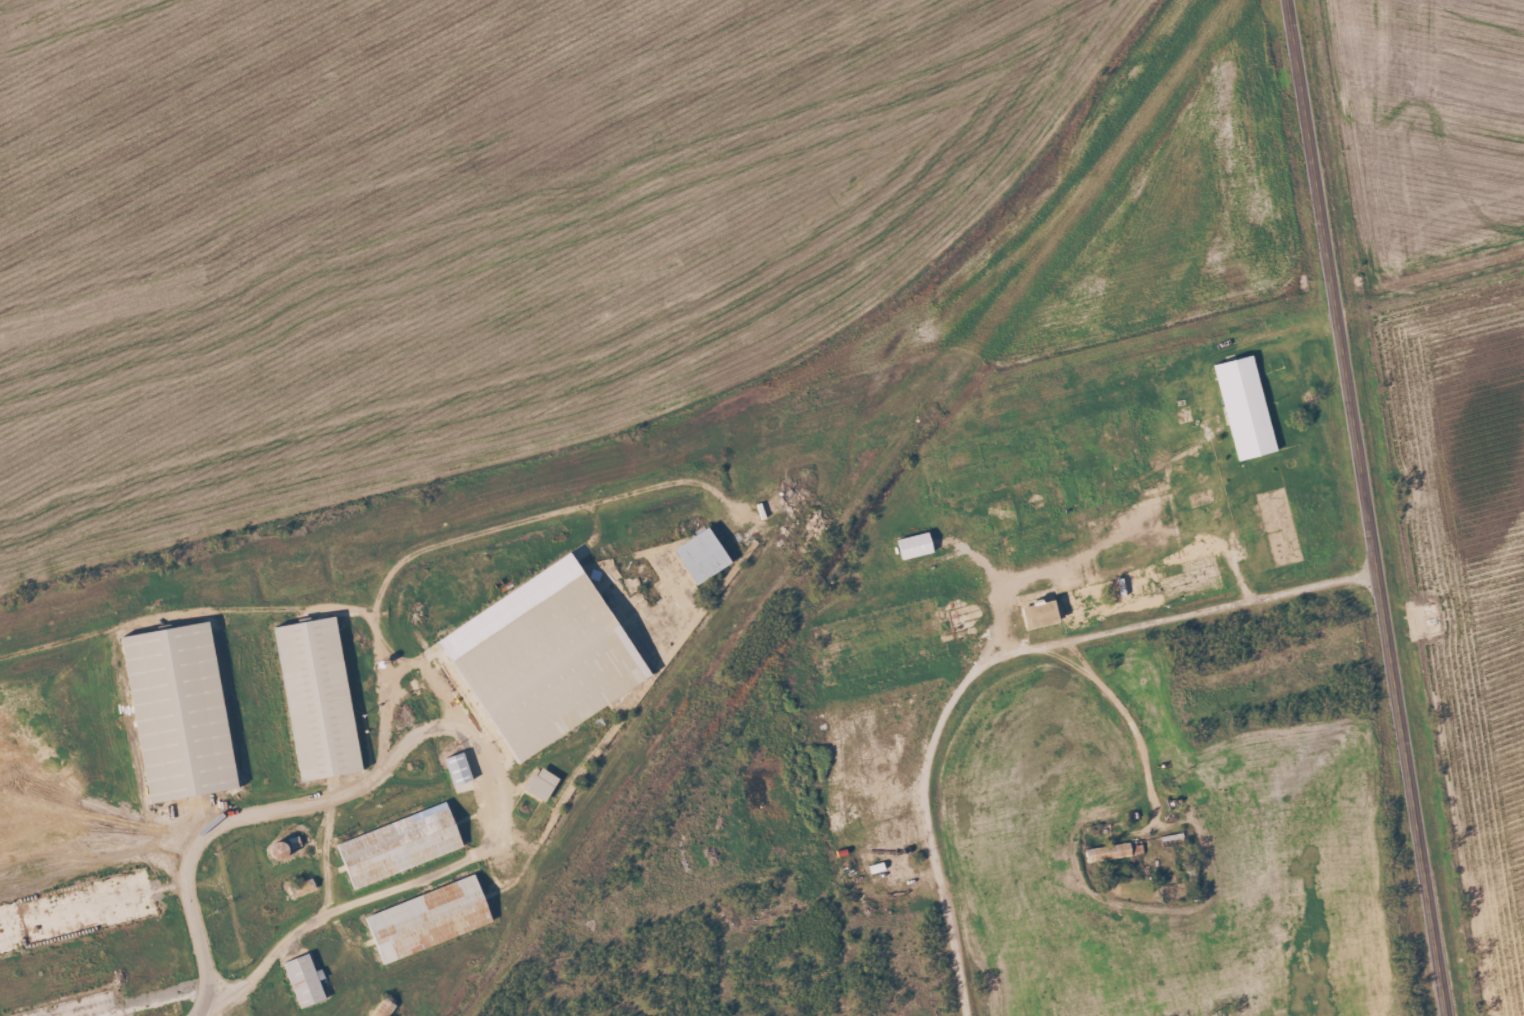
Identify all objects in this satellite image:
building: (1244, 407)
railway: (758, 417)
road: (1367, 508)
building: (913, 544)
building: (700, 555)
building: (1038, 613)
road: (1107, 625)
building: (541, 656)
building: (315, 698)
building: (176, 711)
road: (456, 730)
building: (457, 768)
building: (539, 783)
building: (398, 845)
building: (1114, 851)
road: (324, 854)
building: (301, 888)
road: (942, 904)
building: (427, 919)
building: (303, 979)
building: (382, 1007)

